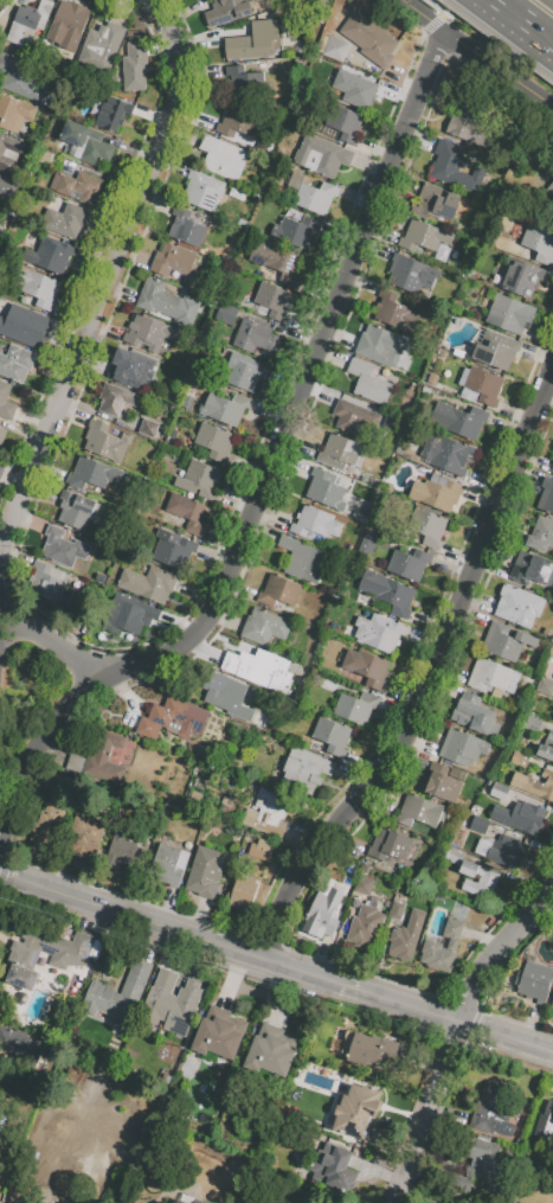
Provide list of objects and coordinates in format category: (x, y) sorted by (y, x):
building: (229, 11)
road: (443, 12)
road: (417, 17)
road: (522, 21)
building: (27, 23)
building: (67, 25)
building: (371, 39)
building: (251, 40)
building: (335, 49)
building: (102, 50)
building: (134, 66)
road: (496, 71)
building: (18, 78)
building: (236, 81)
building: (360, 91)
building: (14, 113)
building: (112, 114)
building: (238, 122)
building: (343, 123)
building: (474, 130)
building: (86, 143)
building: (9, 153)
building: (322, 155)
building: (47, 158)
building: (223, 158)
building: (455, 167)
building: (292, 179)
building: (79, 186)
building: (7, 187)
building: (202, 190)
building: (549, 193)
building: (316, 197)
building: (435, 203)
building: (69, 220)
building: (186, 229)
building: (297, 231)
building: (420, 236)
building: (539, 244)
building: (51, 257)
building: (172, 260)
building: (278, 261)
road: (107, 270)
building: (411, 274)
building: (521, 277)
building: (38, 288)
building: (163, 300)
building: (274, 301)
building: (393, 311)
building: (225, 313)
building: (509, 314)
building: (20, 327)
building: (148, 333)
building: (256, 339)
building: (380, 345)
building: (495, 350)
building: (15, 363)
building: (130, 369)
building: (244, 375)
building: (368, 383)
building: (480, 388)
building: (6, 402)
building: (121, 403)
building: (225, 408)
building: (354, 417)
building: (458, 420)
building: (394, 423)
building: (149, 428)
building: (1, 434)
building: (214, 441)
building: (103, 442)
building: (339, 452)
building: (445, 454)
road: (268, 467)
building: (1, 468)
building: (552, 469)
building: (96, 475)
building: (199, 480)
building: (324, 489)
building: (439, 493)
building: (546, 498)
building: (76, 510)
building: (187, 512)
building: (359, 517)
building: (315, 524)
building: (426, 527)
building: (540, 535)
building: (63, 546)
building: (172, 550)
building: (300, 558)
building: (409, 564)
building: (532, 569)
building: (45, 583)
building: (148, 583)
building: (278, 590)
building: (388, 593)
building: (519, 606)
building: (129, 619)
building: (264, 627)
building: (379, 634)
road: (51, 640)
building: (506, 641)
building: (551, 650)
building: (259, 664)
building: (366, 667)
building: (491, 676)
road: (431, 678)
building: (544, 686)
building: (226, 696)
building: (354, 708)
building: (475, 715)
building: (171, 717)
building: (552, 719)
building: (533, 722)
building: (332, 735)
building: (549, 735)
building: (462, 747)
building: (545, 751)
building: (99, 757)
building: (519, 759)
building: (304, 767)
building: (442, 782)
building: (534, 785)
building: (65, 787)
building: (499, 792)
building: (418, 811)
building: (268, 812)
building: (527, 818)
building: (478, 825)
building: (50, 828)
building: (88, 838)
building: (390, 845)
building: (257, 849)
building: (121, 851)
building: (507, 852)
building: (452, 856)
building: (166, 866)
building: (468, 868)
building: (205, 872)
building: (481, 883)
building: (362, 884)
building: (243, 892)
building: (397, 910)
building: (322, 911)
building: (365, 926)
building: (406, 936)
building: (442, 947)
building: (69, 958)
road: (276, 961)
building: (534, 979)
building: (117, 994)
building: (172, 1002)
building: (552, 1004)
building: (219, 1034)
road: (451, 1036)
building: (19, 1043)
building: (368, 1049)
building: (271, 1050)
building: (96, 1084)
building: (495, 1109)
building: (356, 1111)
building: (0, 1118)
building: (545, 1121)
building: (482, 1165)
building: (47, 1166)
building: (335, 1169)
building: (186, 1199)
building: (159, 1201)

